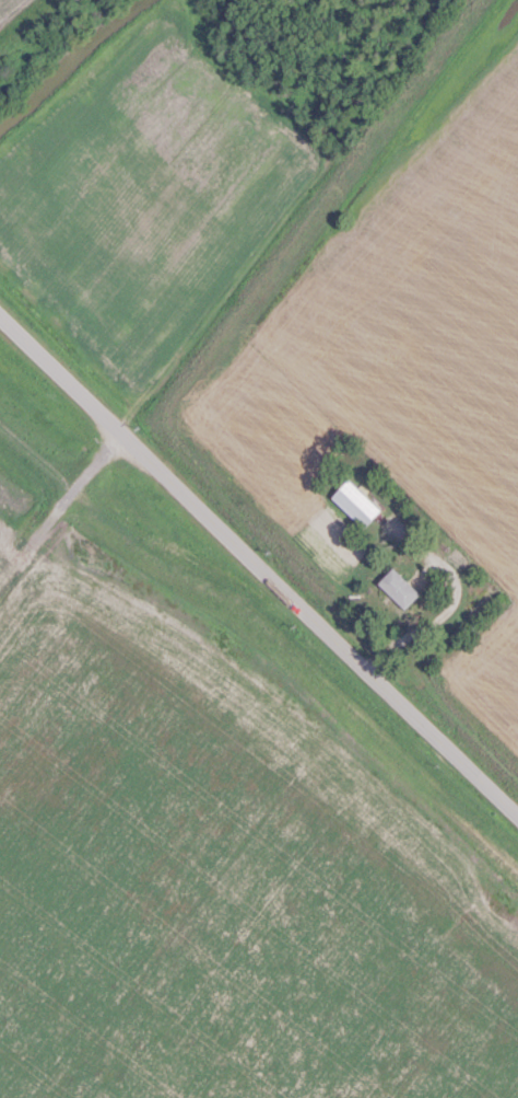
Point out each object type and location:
building: (356, 502)
road: (259, 565)
building: (400, 587)
road: (444, 613)

